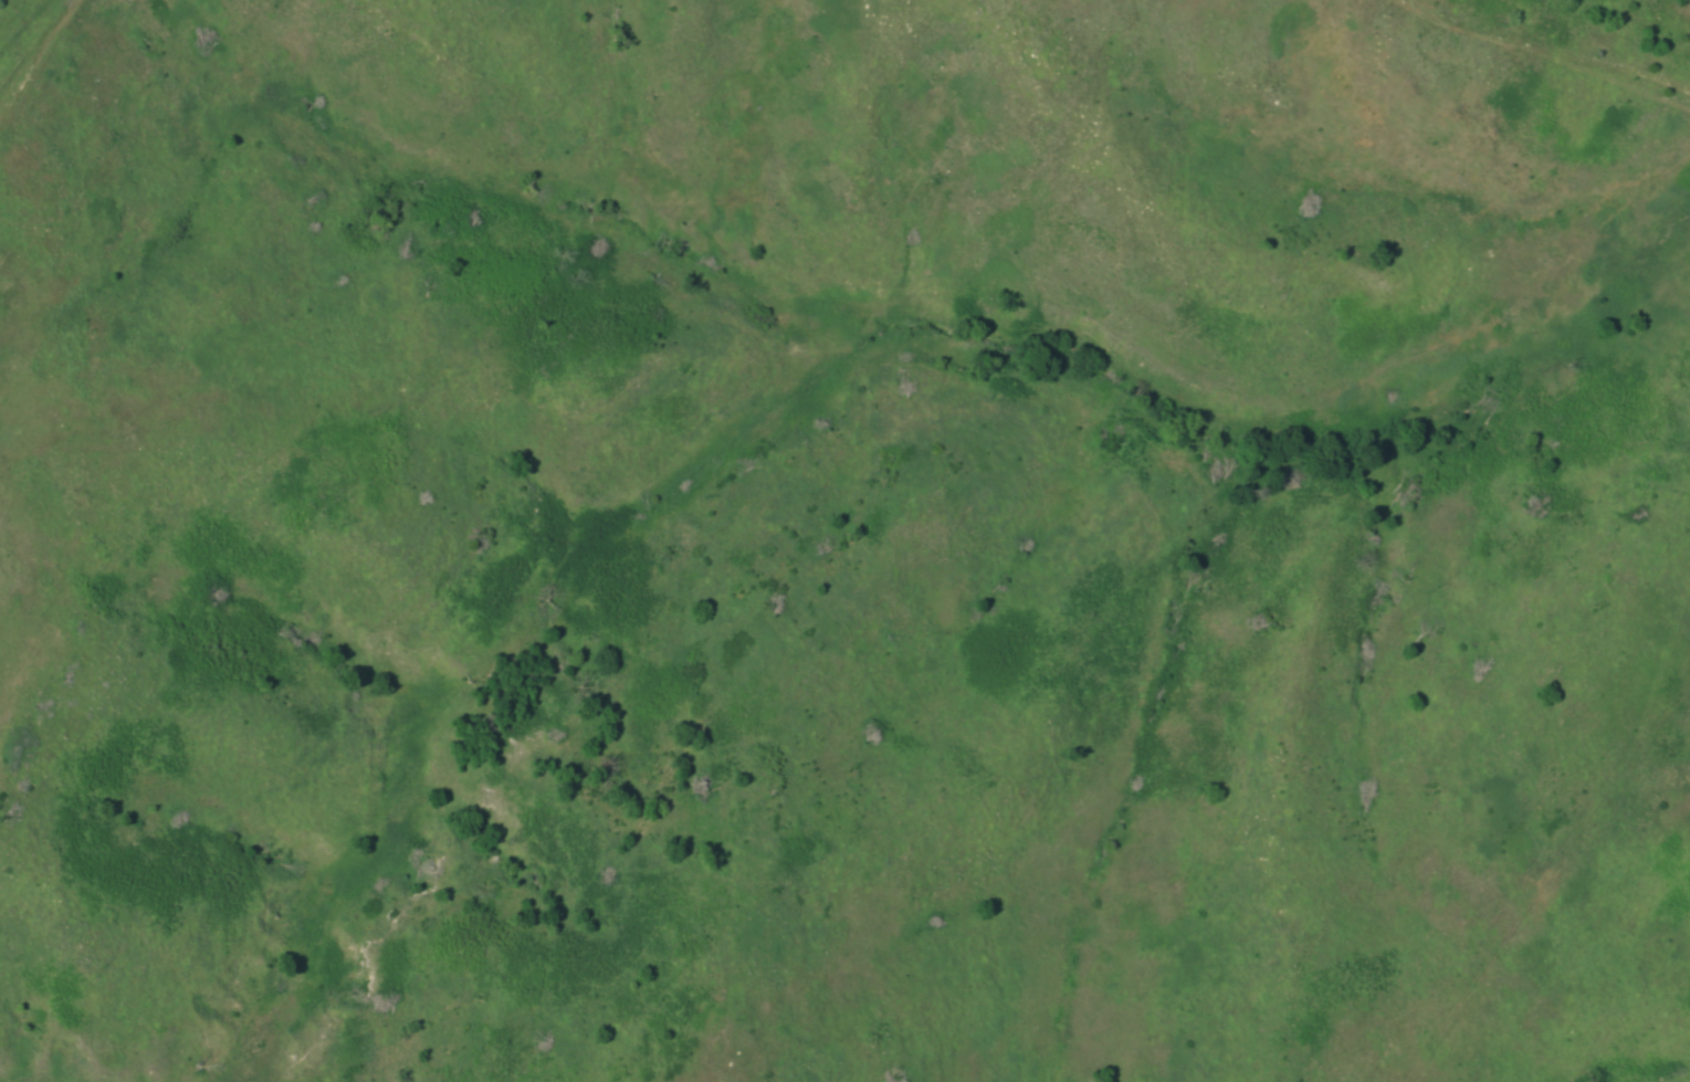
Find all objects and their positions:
park: (844, 540)

